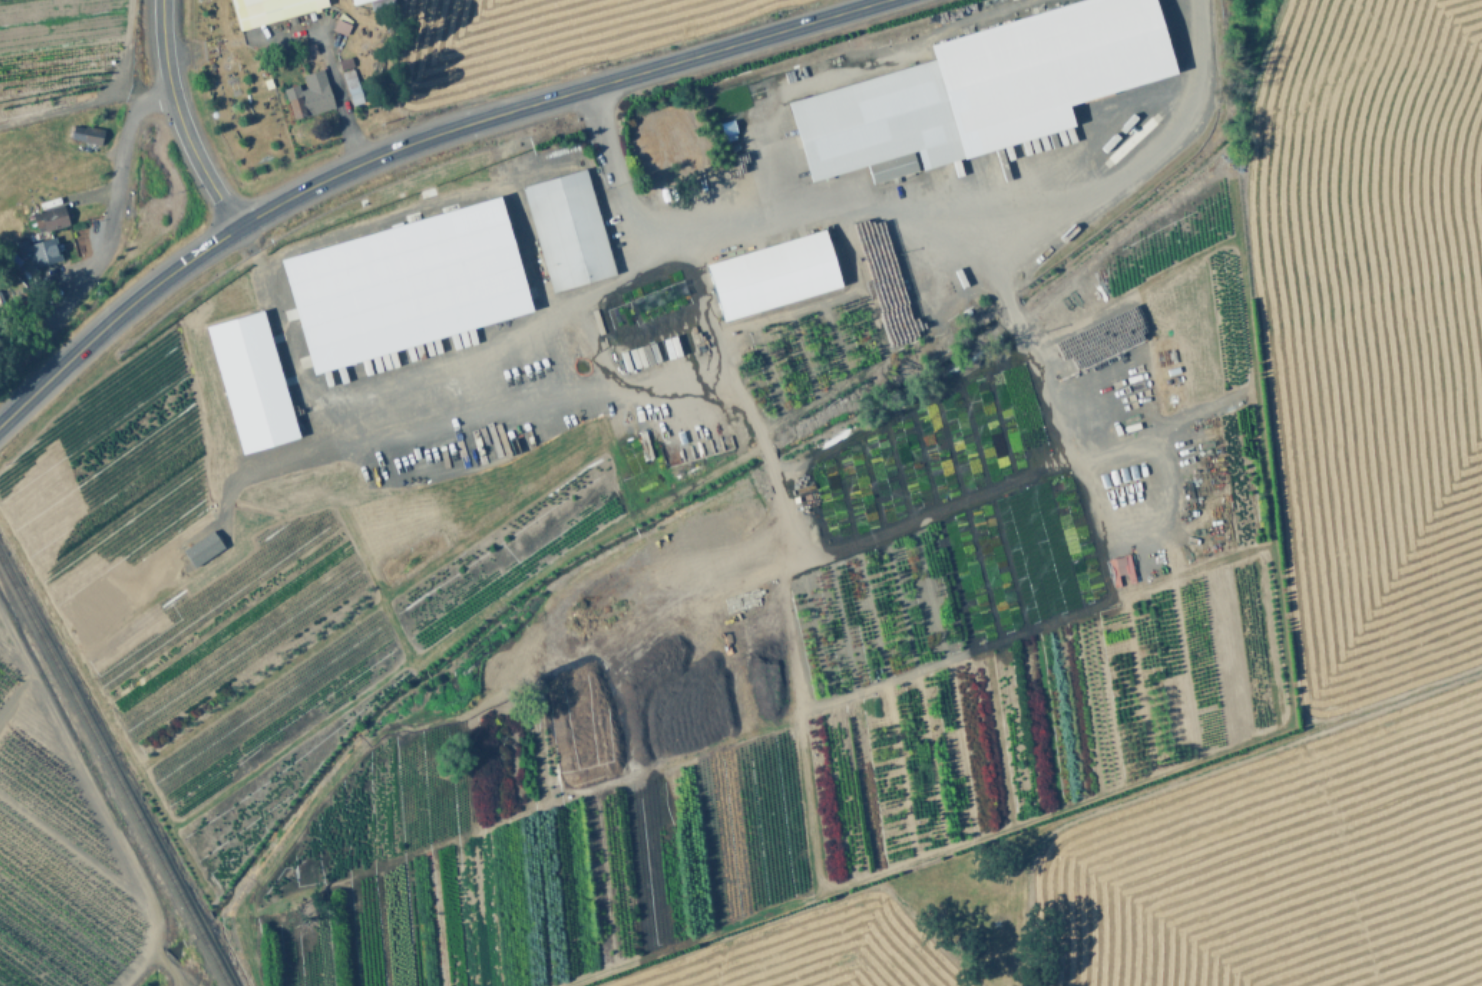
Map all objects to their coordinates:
building: (356, 0)
building: (380, 3)
building: (268, 9)
building: (1041, 54)
building: (345, 62)
building: (352, 85)
building: (1202, 86)
road: (337, 90)
road: (1120, 91)
building: (311, 94)
road: (551, 95)
road: (181, 118)
road: (1052, 119)
building: (879, 122)
building: (728, 124)
building: (640, 126)
building: (86, 132)
building: (649, 148)
road: (1138, 157)
building: (706, 166)
road: (112, 202)
road: (950, 214)
building: (49, 215)
building: (568, 228)
building: (36, 247)
building: (774, 271)
road: (604, 283)
building: (403, 284)
road: (113, 317)
crop: (1373, 364)
building: (249, 382)
road: (960, 503)
road: (793, 655)
railway: (115, 770)
crop: (65, 855)

